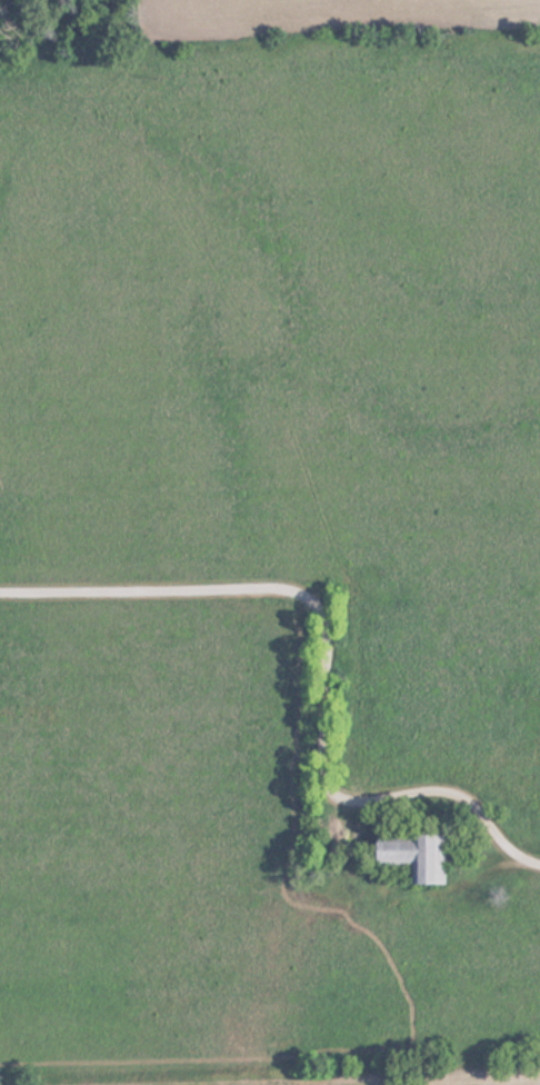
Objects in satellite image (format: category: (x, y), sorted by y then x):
road: (324, 658)
building: (410, 857)

